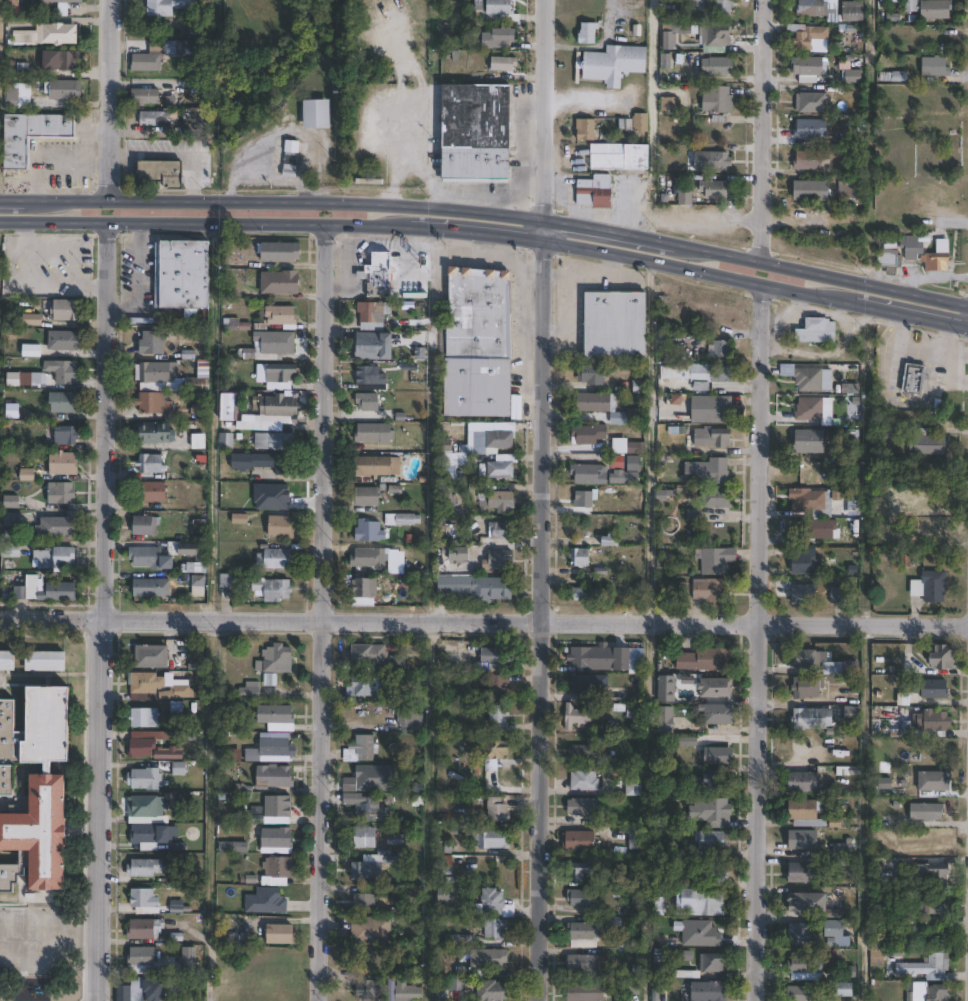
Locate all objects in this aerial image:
building: (12, 4)
building: (698, 4)
building: (63, 5)
building: (912, 6)
building: (168, 7)
building: (501, 7)
building: (725, 8)
building: (821, 10)
building: (938, 10)
building: (854, 12)
building: (22, 24)
building: (589, 34)
building: (57, 35)
building: (718, 36)
building: (25, 38)
building: (810, 38)
building: (496, 39)
road: (595, 46)
building: (173, 48)
building: (150, 58)
building: (65, 60)
building: (505, 64)
building: (615, 64)
building: (719, 66)
building: (937, 67)
building: (810, 69)
building: (895, 76)
building: (855, 77)
building: (66, 88)
building: (26, 91)
building: (145, 96)
road: (109, 98)
building: (720, 99)
building: (813, 101)
building: (670, 104)
road: (543, 108)
building: (316, 113)
building: (153, 117)
building: (639, 122)
building: (587, 128)
building: (812, 128)
road: (764, 130)
building: (479, 131)
building: (31, 134)
building: (621, 155)
building: (291, 158)
building: (814, 159)
road: (409, 160)
building: (719, 161)
building: (163, 172)
building: (718, 188)
building: (809, 190)
building: (596, 191)
road: (10, 196)
building: (687, 198)
road: (282, 200)
road: (230, 220)
road: (543, 227)
road: (607, 229)
road: (501, 232)
building: (915, 246)
building: (281, 252)
building: (891, 260)
building: (937, 262)
building: (126, 263)
road: (720, 272)
road: (819, 272)
building: (183, 274)
building: (379, 275)
building: (281, 282)
building: (67, 309)
building: (372, 311)
building: (278, 317)
road: (932, 317)
building: (236, 324)
building: (619, 325)
building: (819, 330)
building: (65, 340)
building: (154, 342)
building: (480, 345)
building: (270, 346)
building: (371, 346)
building: (722, 349)
building: (32, 350)
building: (65, 372)
building: (157, 372)
building: (700, 373)
building: (593, 374)
building: (281, 376)
building: (372, 377)
building: (20, 378)
building: (810, 379)
building: (916, 379)
building: (198, 384)
building: (228, 400)
building: (368, 401)
building: (63, 403)
building: (154, 403)
building: (596, 403)
building: (202, 409)
building: (276, 409)
building: (718, 409)
building: (811, 409)
building: (632, 415)
building: (491, 427)
building: (156, 432)
building: (376, 433)
building: (890, 433)
building: (589, 434)
building: (66, 436)
building: (718, 437)
building: (501, 439)
building: (227, 440)
building: (276, 441)
building: (811, 441)
building: (199, 442)
building: (479, 445)
building: (930, 445)
building: (638, 447)
building: (264, 462)
building: (64, 463)
building: (151, 463)
building: (454, 463)
building: (636, 464)
building: (379, 466)
building: (503, 466)
building: (709, 471)
building: (590, 474)
building: (928, 478)
building: (153, 492)
building: (61, 493)
building: (367, 496)
building: (448, 497)
building: (717, 497)
building: (587, 499)
building: (806, 499)
building: (501, 501)
building: (12, 502)
building: (852, 504)
building: (694, 516)
building: (403, 519)
building: (13, 520)
building: (60, 525)
building: (147, 526)
building: (283, 527)
building: (821, 529)
building: (370, 531)
building: (503, 531)
building: (606, 540)
building: (11, 550)
building: (189, 550)
building: (459, 554)
building: (147, 557)
building: (581, 557)
building: (55, 558)
building: (370, 558)
building: (276, 559)
building: (500, 561)
building: (713, 561)
building: (807, 562)
building: (193, 566)
building: (197, 585)
building: (936, 586)
building: (148, 588)
building: (478, 588)
building: (273, 590)
building: (711, 590)
building: (59, 592)
building: (365, 592)
building: (586, 594)
building: (805, 594)
road: (104, 609)
road: (323, 611)
road: (484, 616)
road: (542, 619)
road: (760, 641)
building: (151, 655)
building: (371, 656)
building: (946, 657)
building: (274, 658)
building: (809, 659)
building: (6, 660)
building: (43, 660)
building: (495, 660)
building: (603, 660)
building: (710, 660)
building: (835, 669)
building: (854, 669)
building: (149, 684)
building: (583, 684)
building: (708, 686)
building: (372, 687)
building: (665, 687)
building: (500, 688)
building: (248, 689)
building: (809, 689)
building: (933, 689)
building: (176, 691)
building: (273, 713)
building: (854, 713)
building: (720, 714)
building: (411, 716)
building: (143, 717)
building: (577, 717)
building: (500, 718)
building: (813, 719)
building: (666, 720)
building: (928, 725)
building: (149, 742)
building: (270, 746)
building: (362, 750)
building: (496, 750)
building: (583, 751)
building: (167, 753)
building: (229, 754)
building: (720, 756)
building: (274, 775)
building: (144, 778)
building: (586, 780)
building: (936, 781)
building: (716, 782)
building: (805, 783)
building: (34, 788)
building: (632, 789)
building: (145, 805)
building: (581, 807)
road: (206, 808)
road: (428, 808)
building: (277, 809)
building: (367, 809)
building: (805, 810)
building: (499, 811)
building: (928, 812)
building: (719, 813)
building: (811, 824)
building: (151, 835)
building: (367, 837)
building: (637, 838)
building: (492, 839)
building: (275, 840)
building: (805, 840)
building: (396, 841)
building: (714, 841)
building: (580, 842)
building: (844, 850)
building: (144, 867)
building: (277, 870)
building: (367, 872)
building: (579, 872)
building: (716, 872)
building: (805, 873)
building: (940, 874)
building: (894, 880)
building: (446, 896)
building: (143, 899)
building: (581, 899)
building: (265, 900)
building: (365, 903)
building: (706, 903)
building: (938, 905)
building: (814, 906)
building: (495, 914)
building: (143, 928)
building: (836, 929)
building: (372, 931)
building: (593, 932)
building: (700, 932)
building: (178, 933)
building: (280, 934)
building: (802, 934)
building: (189, 956)
building: (879, 957)
building: (144, 959)
building: (488, 961)
building: (713, 961)
building: (584, 963)
building: (931, 966)
building: (807, 971)
building: (689, 973)
building: (456, 983)
building: (632, 986)
building: (848, 988)
building: (146, 989)
building: (373, 989)
building: (493, 990)
building: (710, 990)
building: (407, 991)
building: (121, 992)
building: (800, 992)
building: (930, 992)
building: (588, 993)

